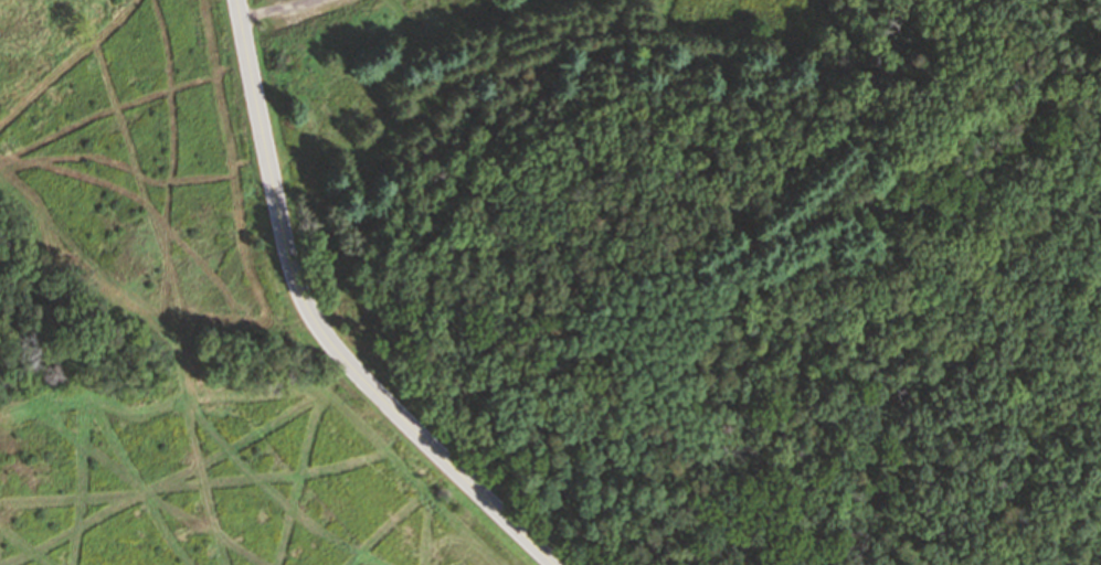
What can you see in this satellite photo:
road: (280, 11)
road: (318, 324)

